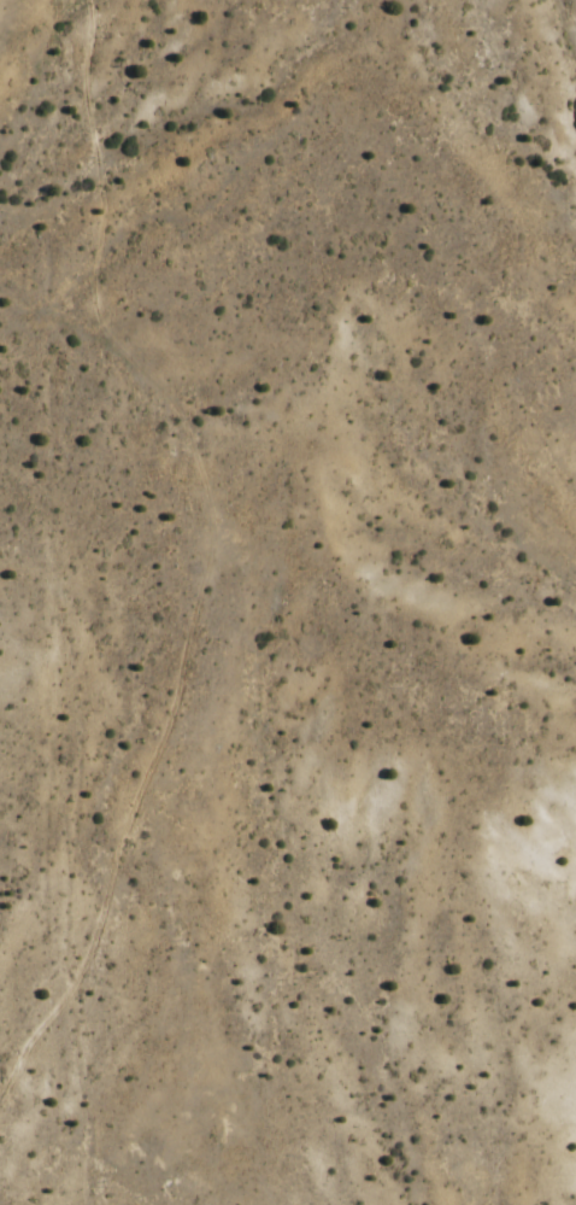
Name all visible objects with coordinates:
road: (88, 110)
road: (259, 550)

